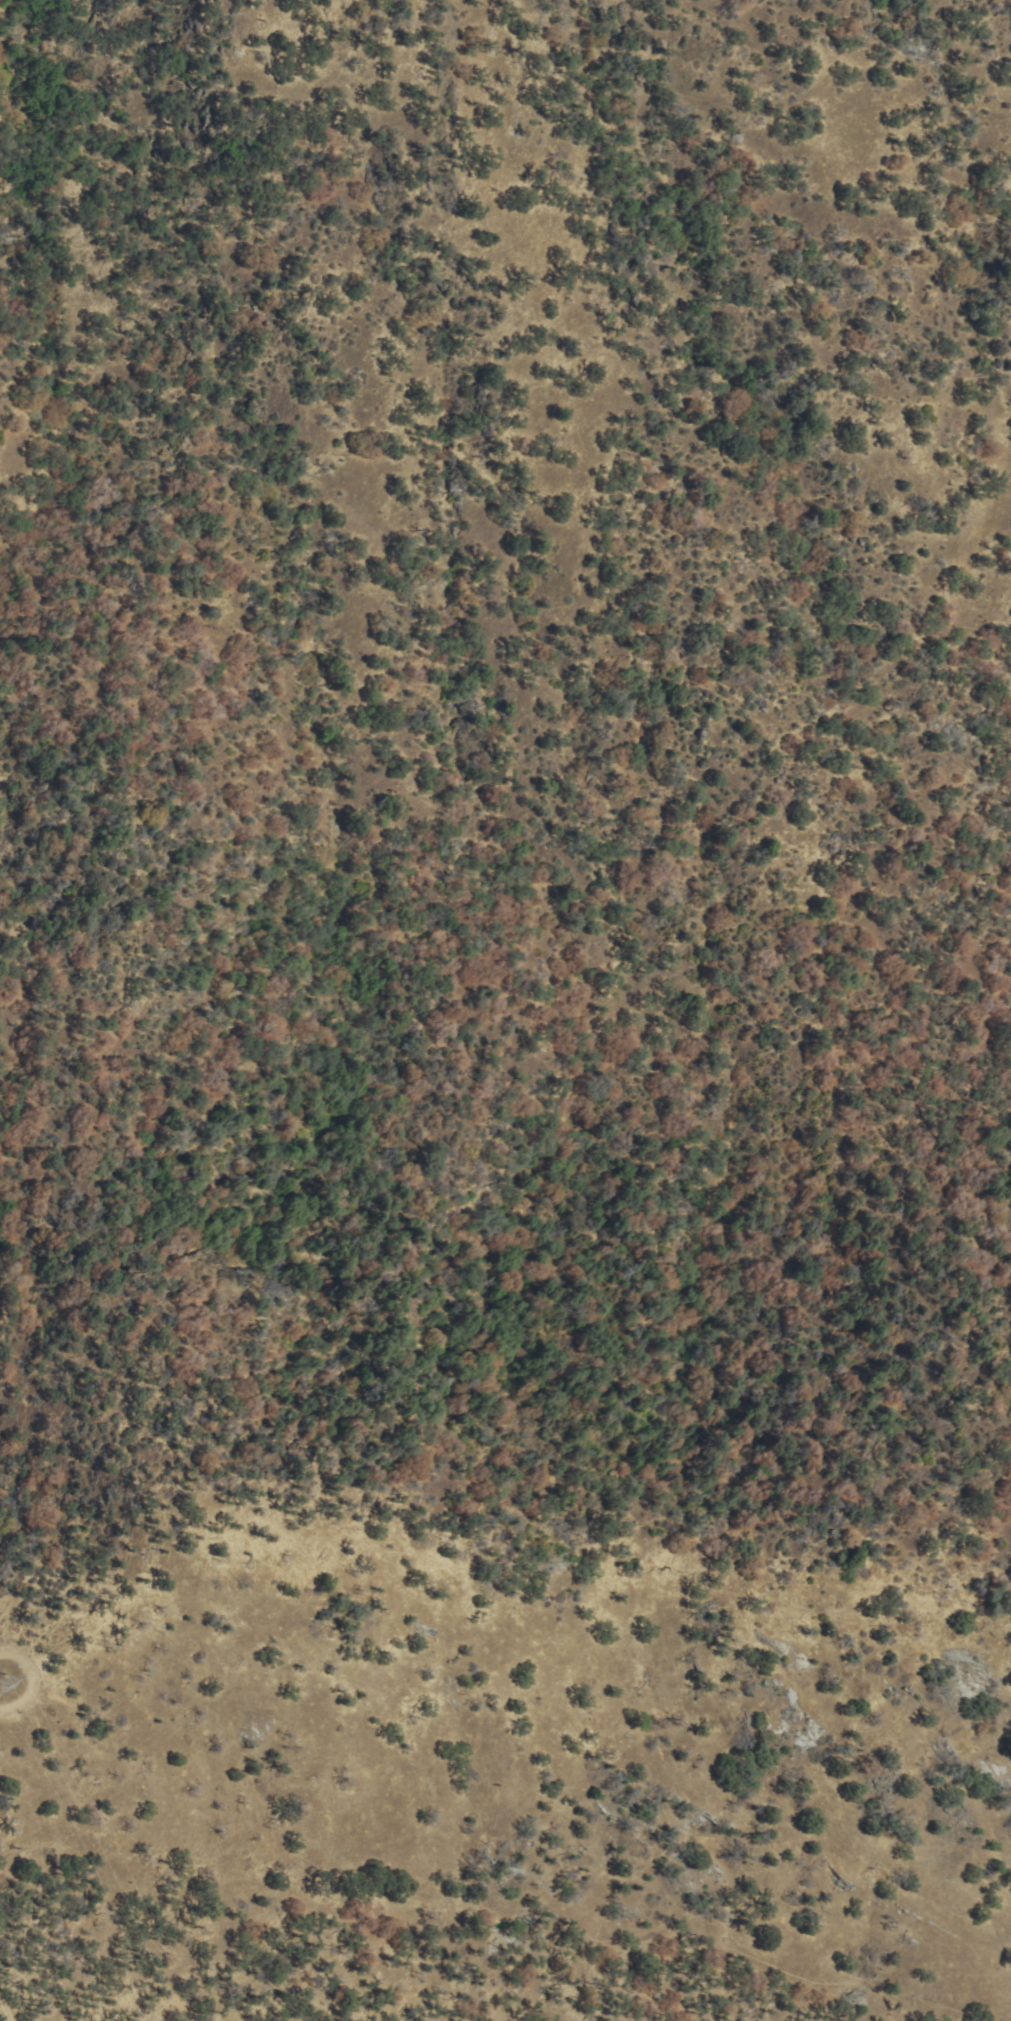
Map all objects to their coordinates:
power tower: (0, 1684)

